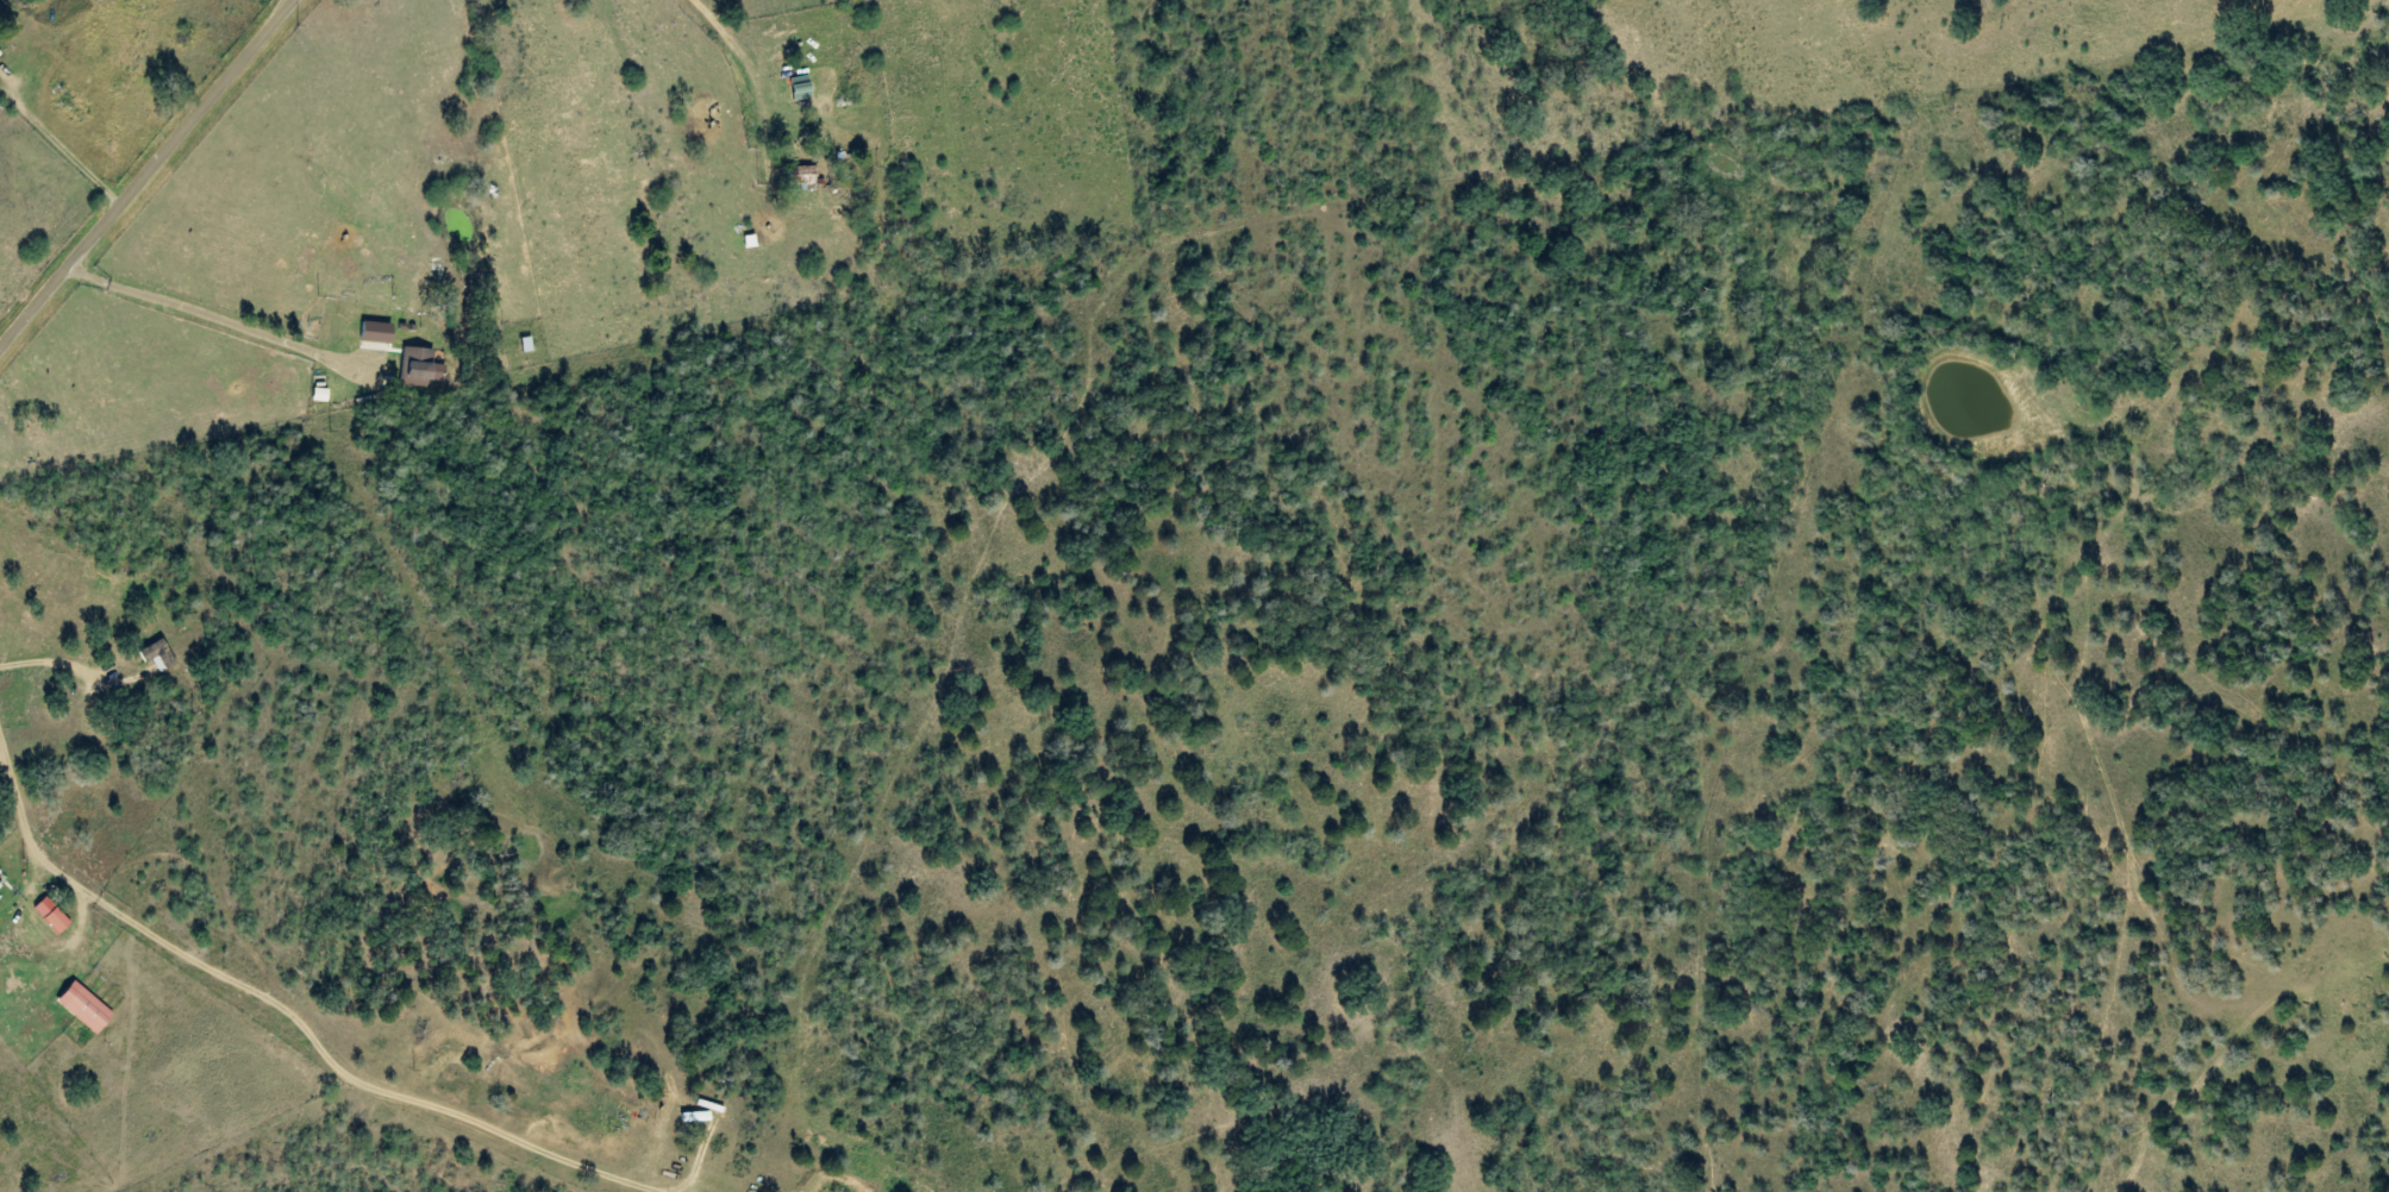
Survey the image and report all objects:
building: (794, 88)
road: (148, 175)
building: (796, 176)
road: (796, 187)
building: (369, 333)
building: (411, 368)
building: (433, 372)
building: (152, 657)
building: (45, 916)
road: (196, 924)
building: (77, 1008)
road: (173, 1089)

